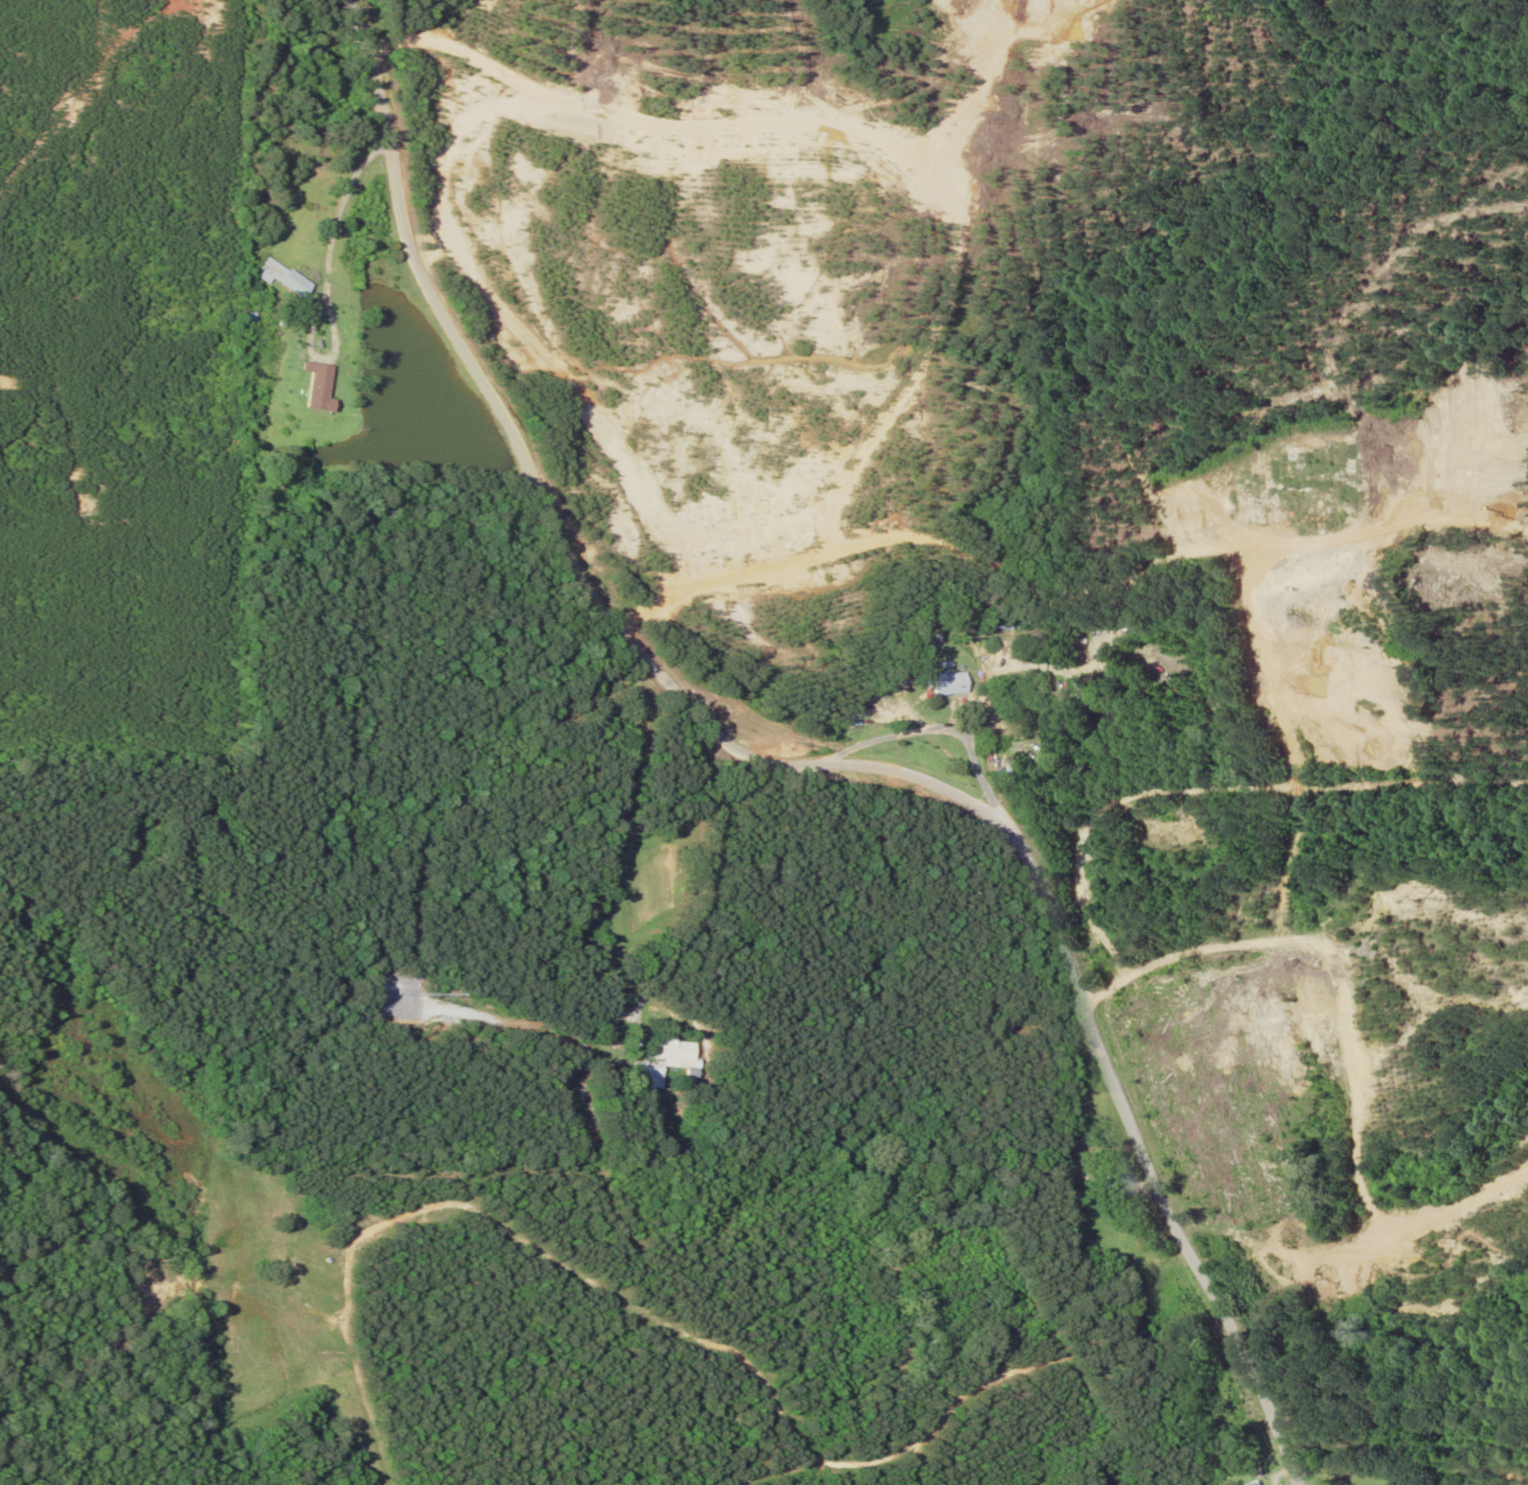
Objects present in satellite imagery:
building: (279, 276)
building: (311, 387)
building: (990, 623)
building: (942, 683)
road: (756, 774)
building: (660, 1050)
building: (631, 1068)
building: (602, 1088)
building: (1101, 1181)
building: (1132, 1244)
building: (1256, 1484)

